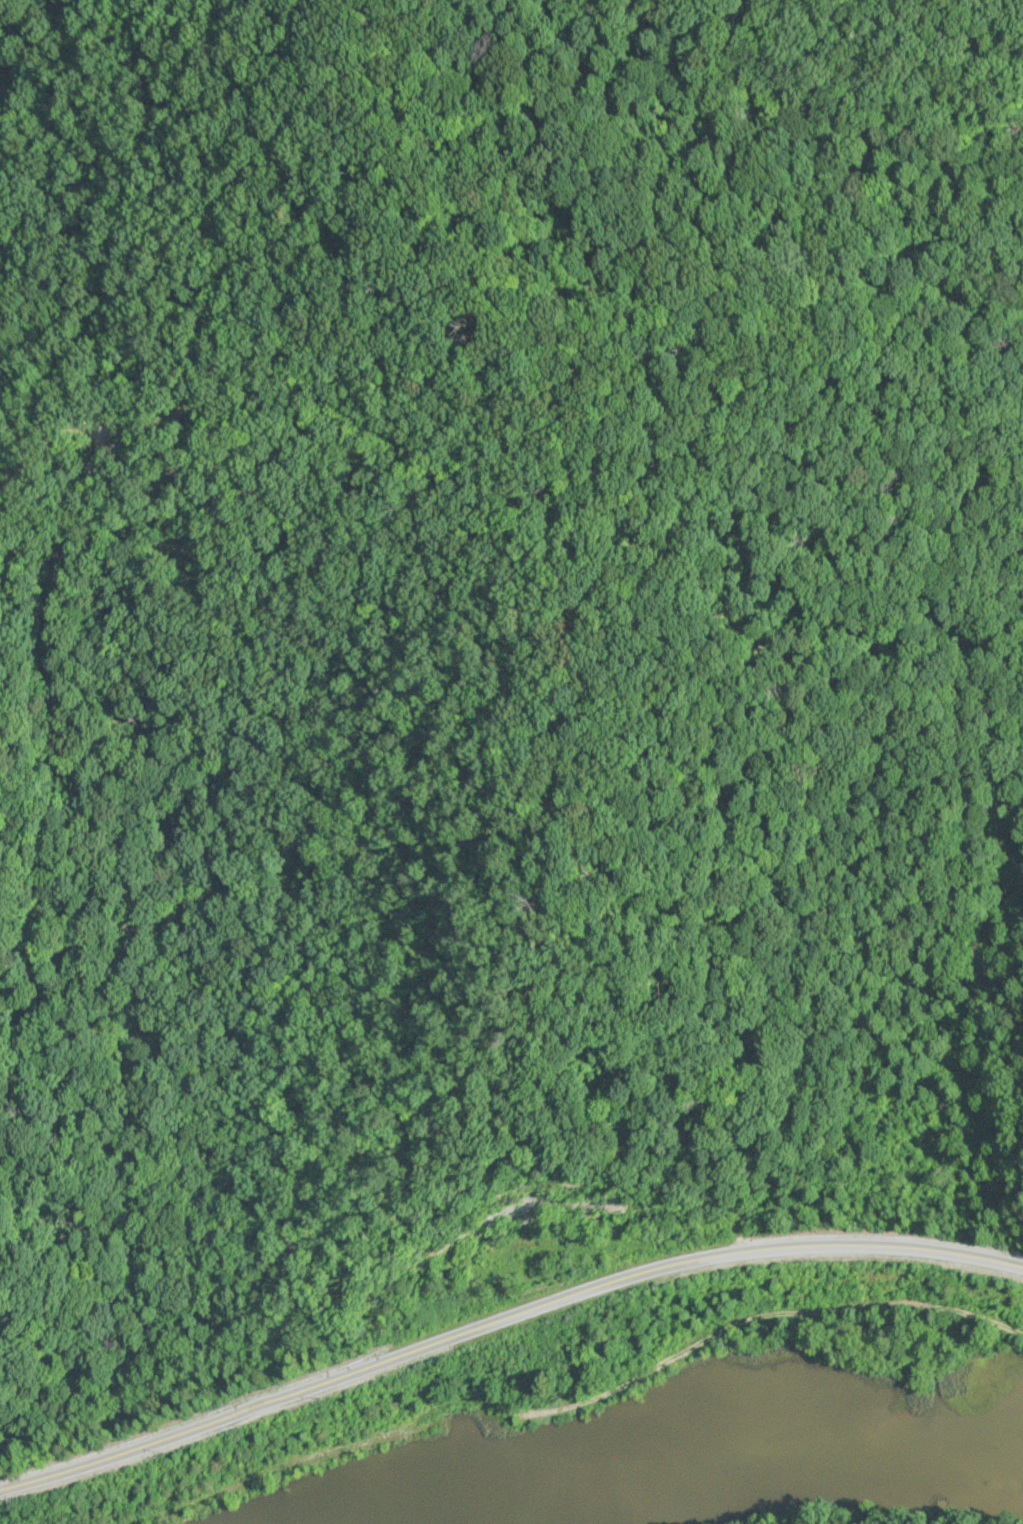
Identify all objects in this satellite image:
road: (503, 1318)

